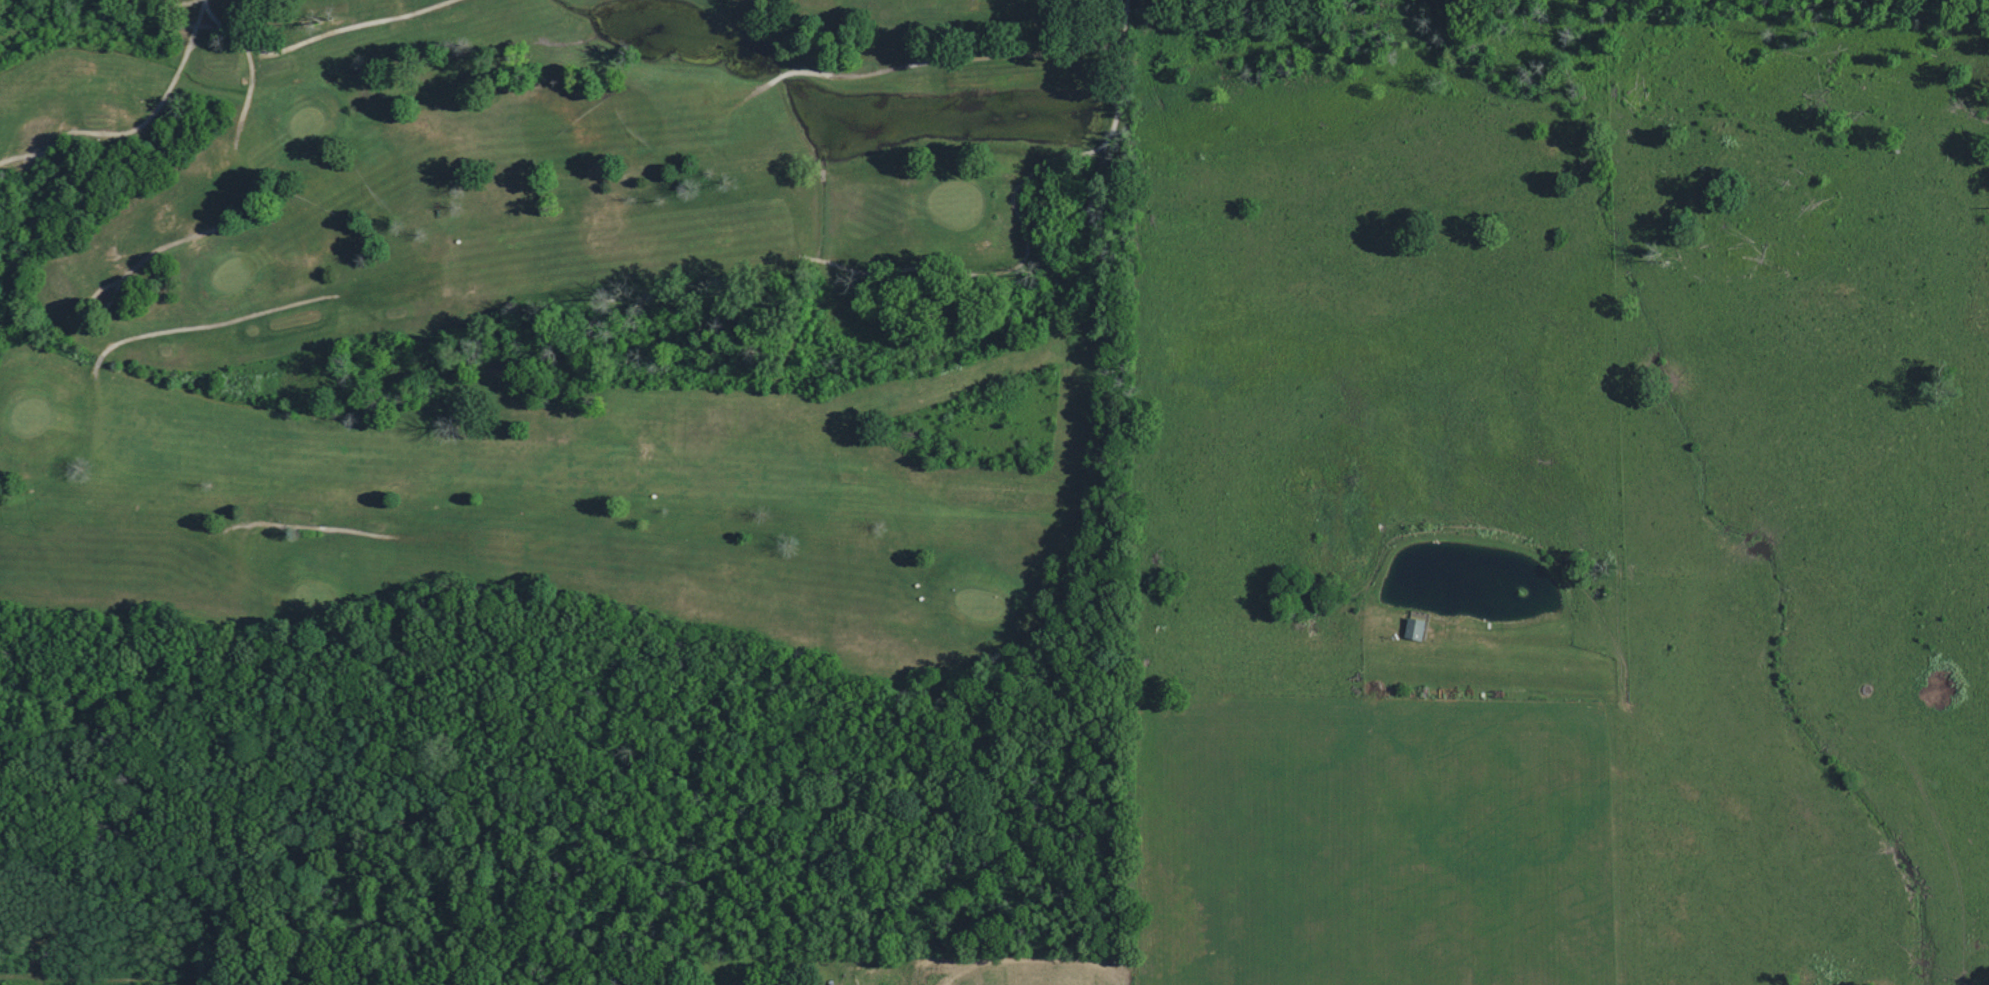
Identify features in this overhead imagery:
park: (588, 351)
building: (1412, 629)

